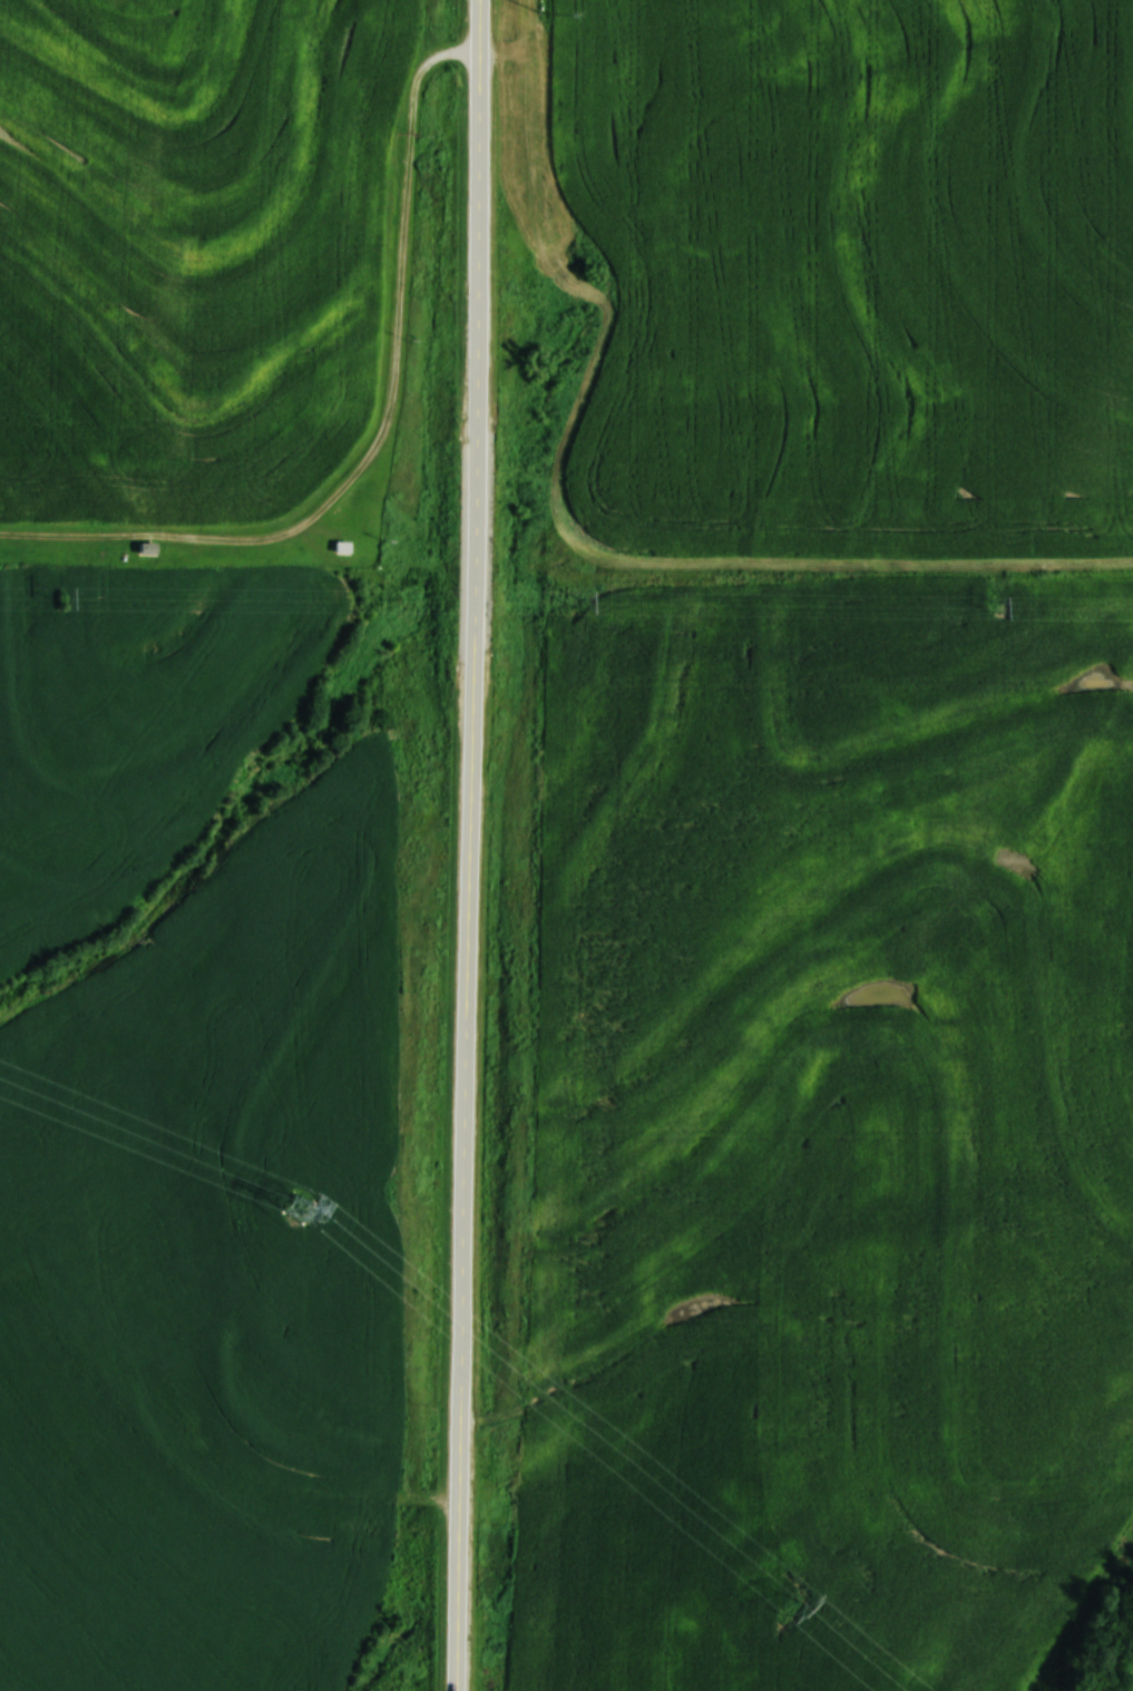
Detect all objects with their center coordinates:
building: (149, 548)
power tower: (58, 597)
power tower: (575, 604)
power tower: (992, 606)
road: (472, 846)
power tower: (299, 1210)
power tower: (785, 1606)

